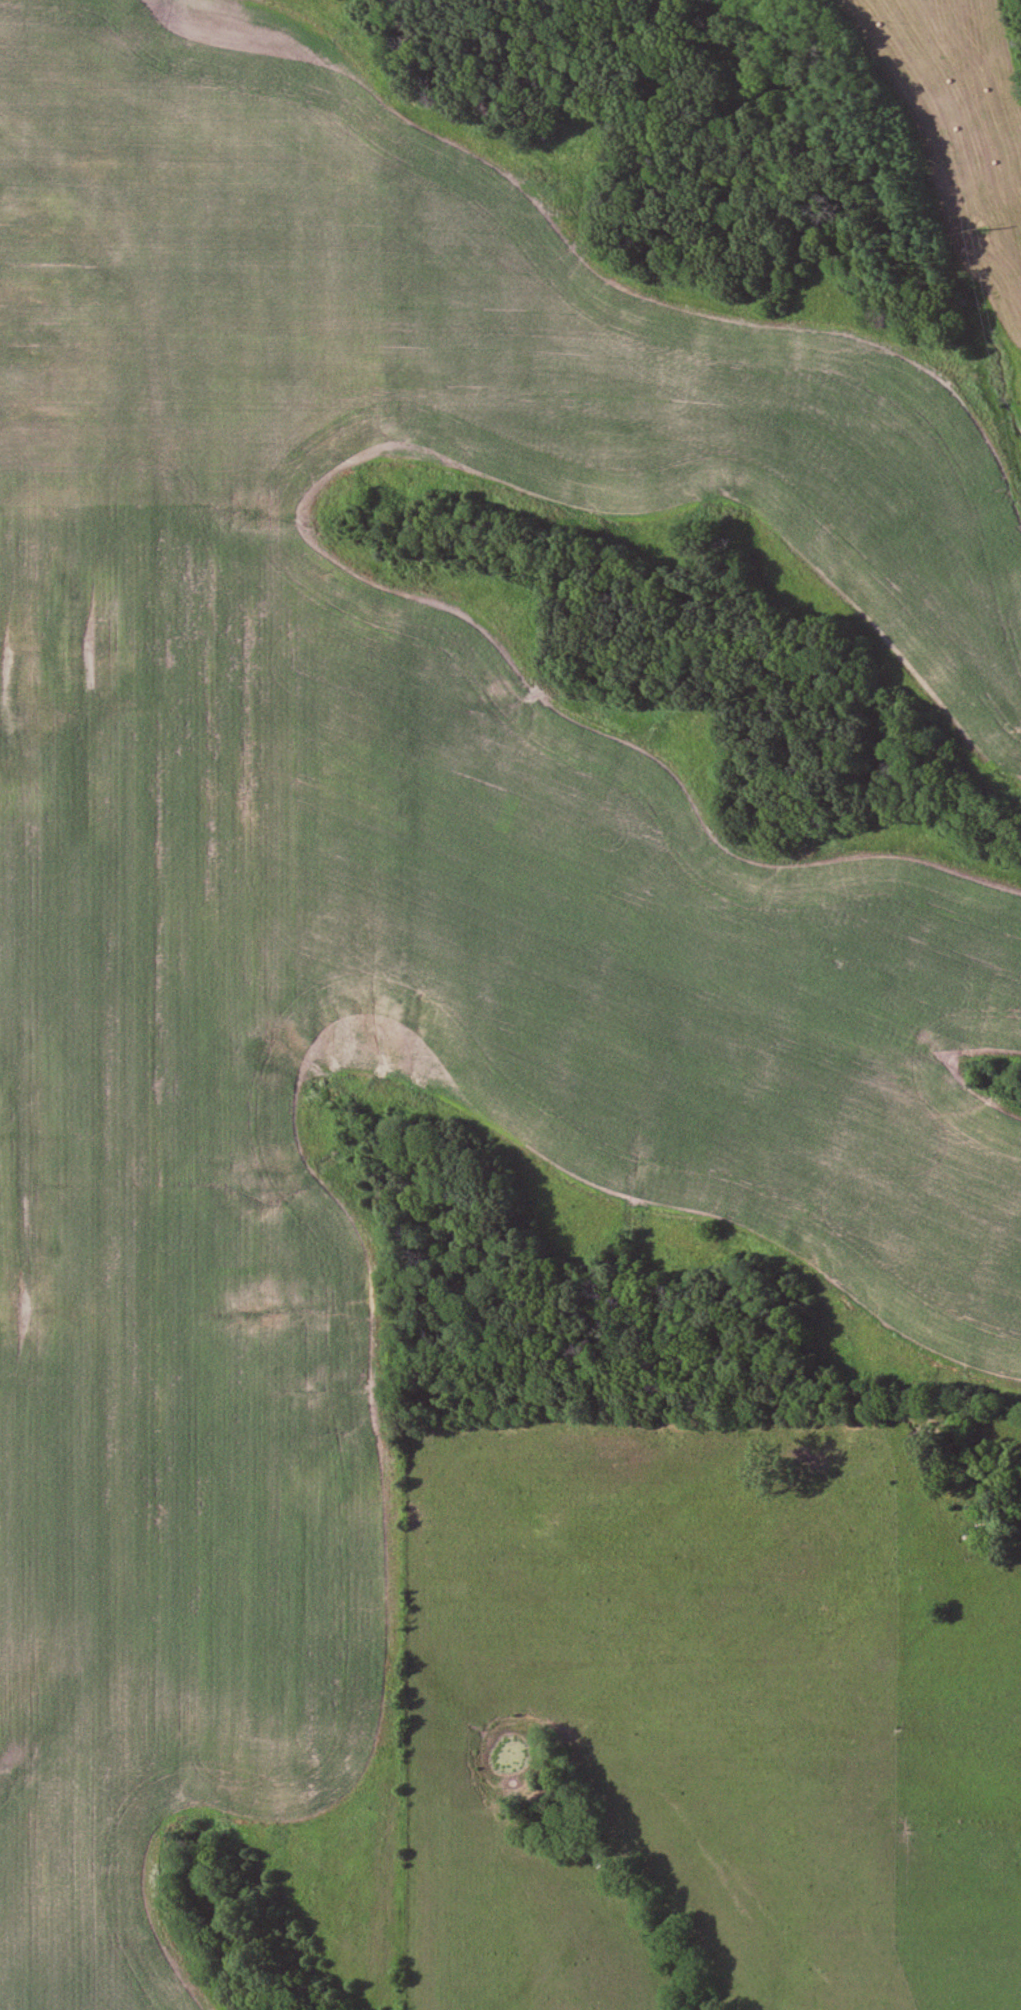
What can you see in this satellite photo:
power tower: (978, 229)

